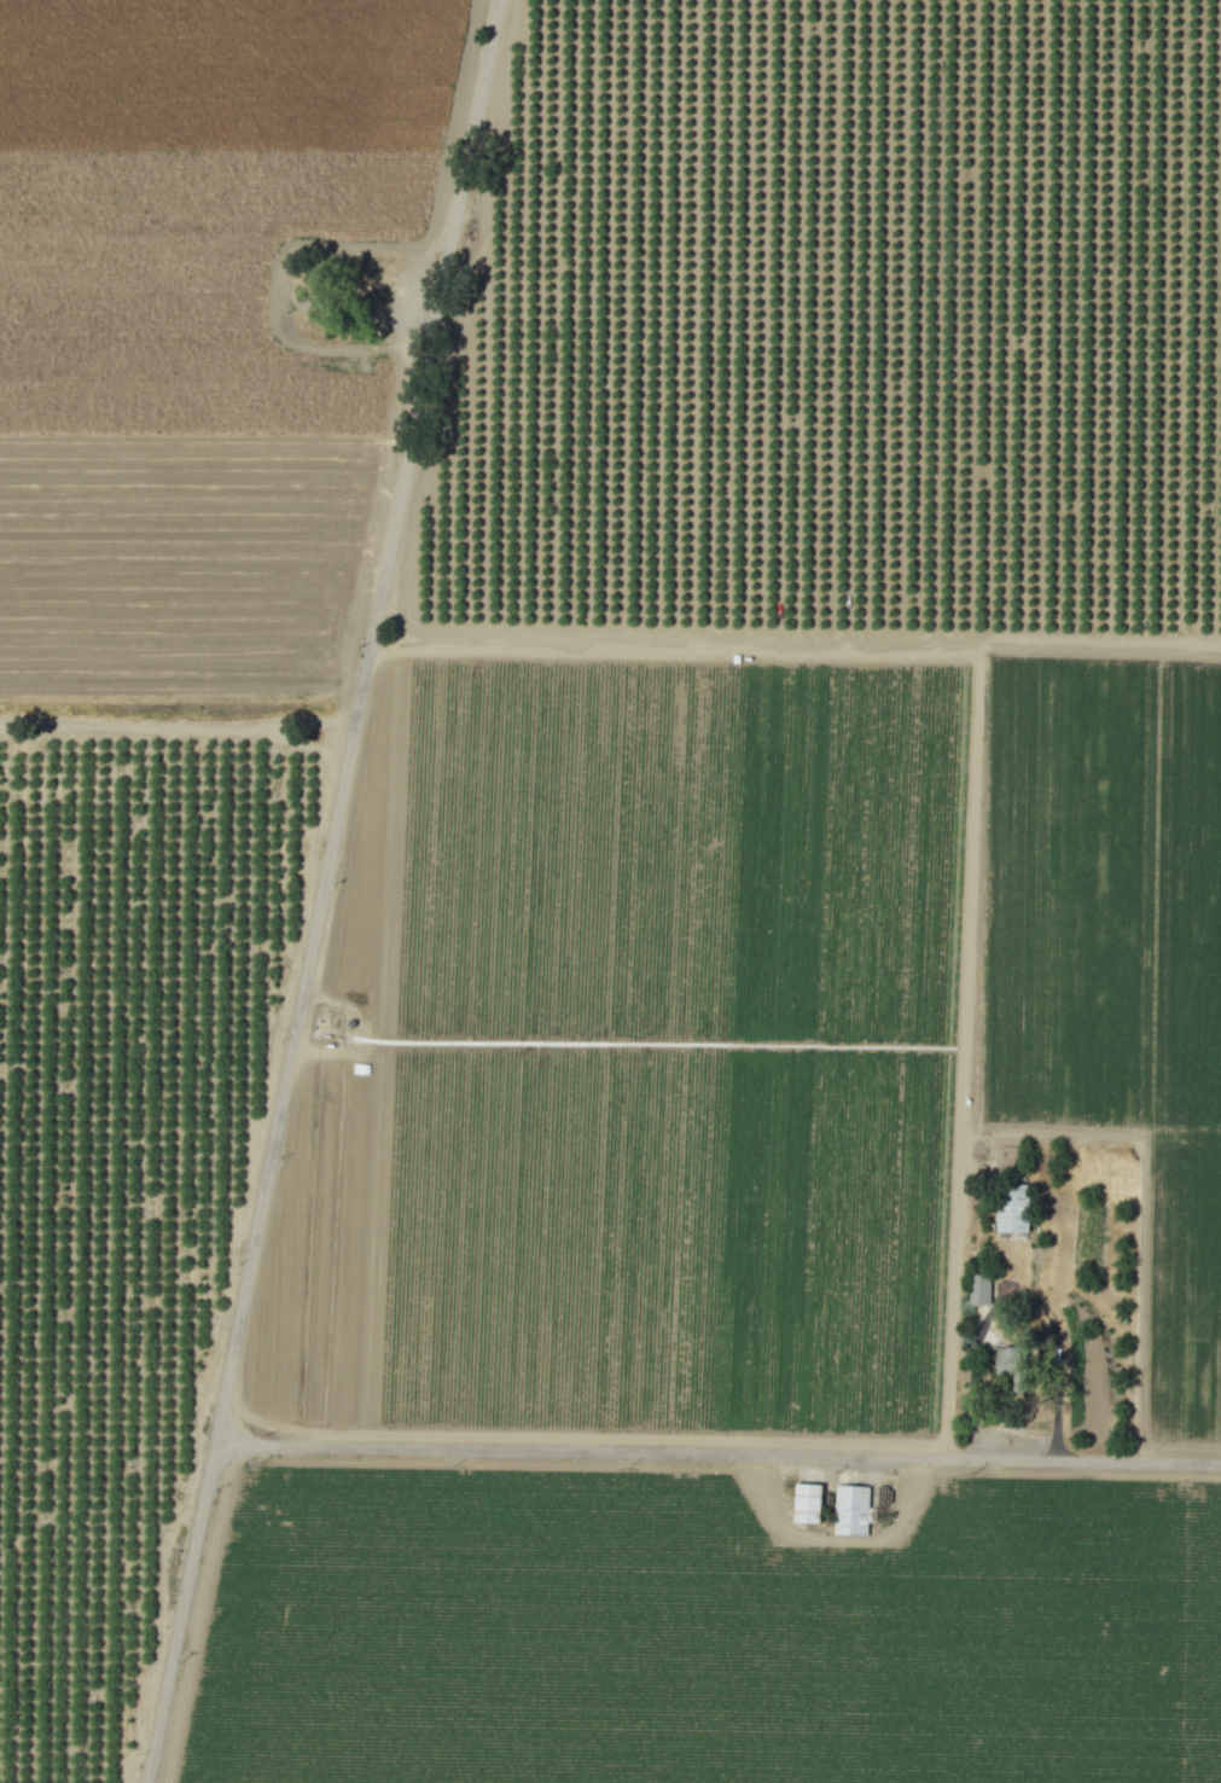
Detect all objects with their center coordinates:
road: (321, 890)
building: (1011, 1226)
building: (978, 1290)
road: (719, 1454)
building: (807, 1504)
building: (850, 1510)

